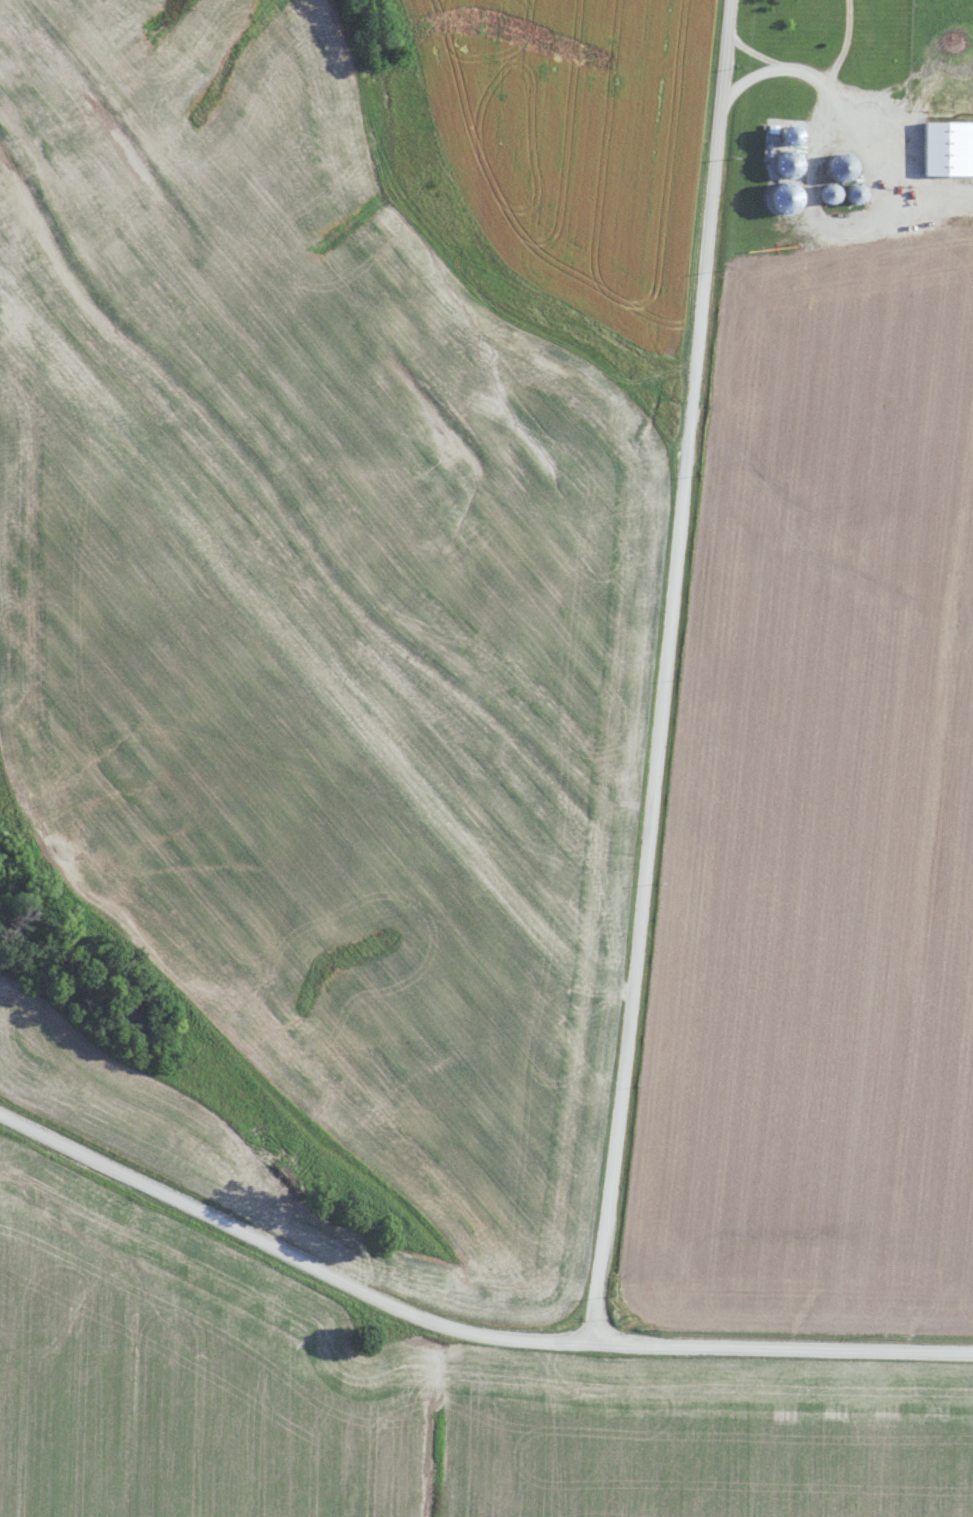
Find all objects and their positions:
road: (843, 46)
road: (777, 69)
road: (845, 113)
building: (949, 149)
road: (668, 672)
road: (462, 1334)

